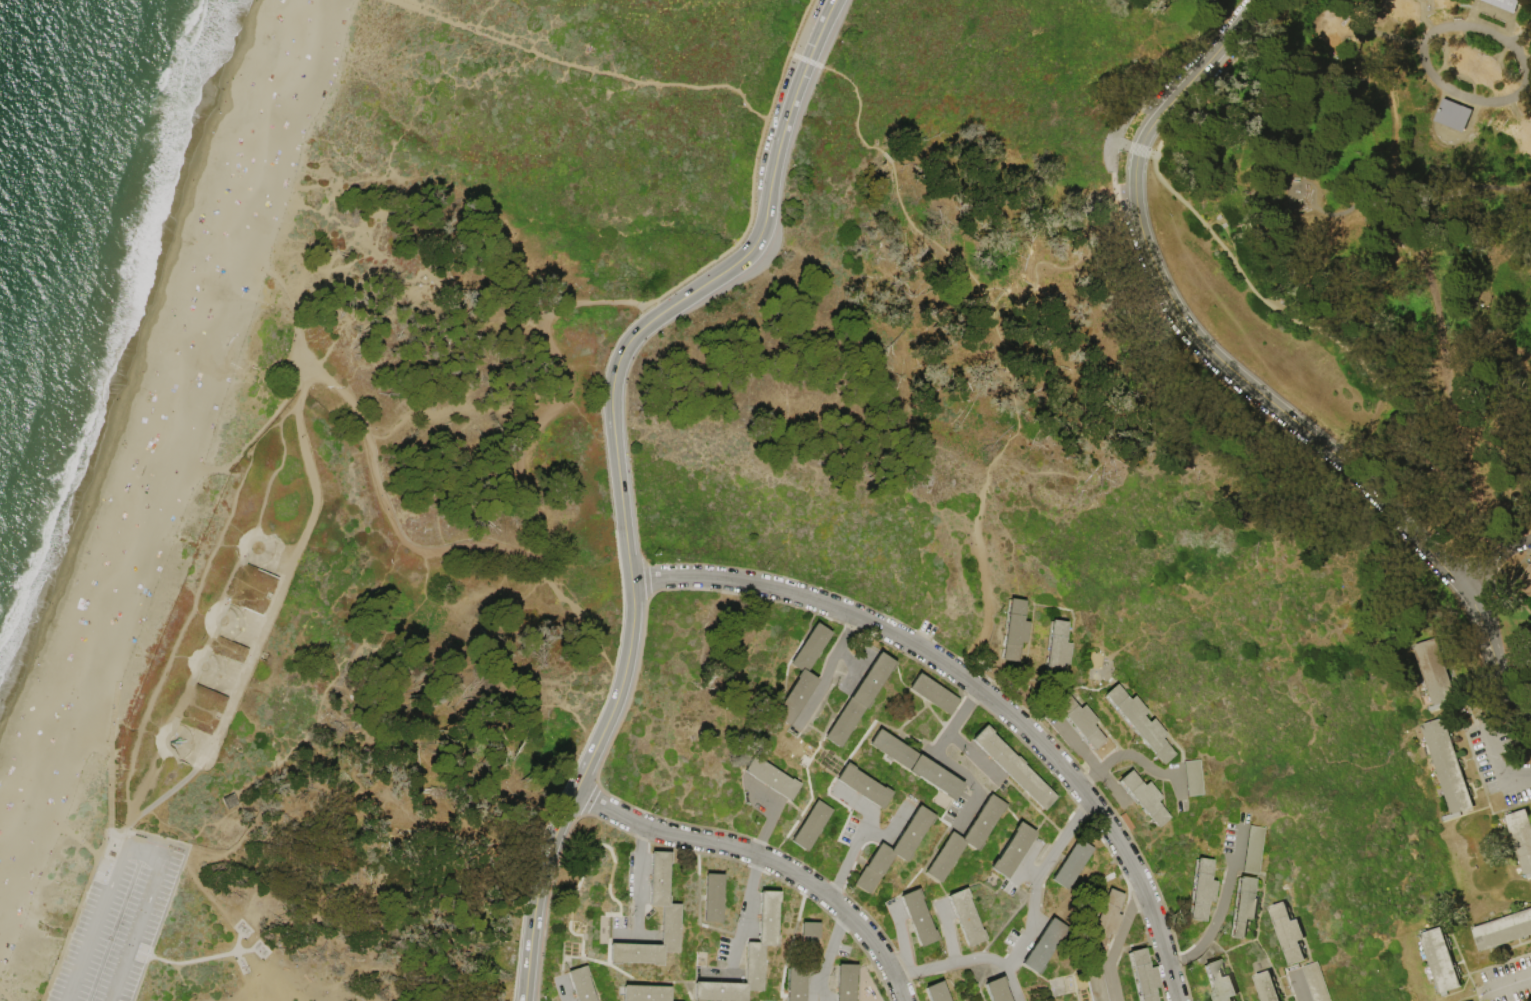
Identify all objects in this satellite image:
building: (1504, 5)
road: (1471, 13)
road: (1523, 34)
road: (809, 60)
road: (1529, 69)
road: (1303, 76)
road: (1436, 81)
parking lot: (1173, 89)
road: (859, 106)
road: (751, 109)
building: (1454, 116)
road: (1130, 147)
road: (1104, 151)
road: (1470, 190)
parking lot: (1129, 220)
road: (1202, 224)
road: (1231, 243)
road: (1428, 291)
road: (653, 309)
road: (993, 318)
road: (1192, 322)
road: (302, 342)
road: (616, 363)
road: (568, 381)
road: (258, 431)
road: (1424, 484)
park: (806, 516)
road: (259, 534)
road: (275, 537)
road: (290, 547)
building: (1529, 562)
road: (1498, 564)
road: (286, 574)
building: (1524, 583)
road: (192, 604)
road: (988, 604)
road: (583, 609)
road: (217, 619)
road: (257, 620)
road: (221, 621)
building: (1015, 629)
road: (252, 633)
road: (245, 644)
building: (220, 646)
building: (1058, 648)
road: (1493, 651)
road: (237, 663)
road: (204, 665)
road: (827, 673)
building: (802, 674)
building: (1436, 674)
road: (236, 679)
road: (980, 691)
building: (934, 694)
road: (225, 695)
building: (860, 699)
building: (1081, 721)
building: (1141, 723)
road: (110, 726)
road: (1076, 744)
road: (941, 745)
road: (169, 746)
road: (976, 759)
road: (181, 760)
road: (1144, 761)
building: (916, 764)
road: (1500, 764)
road: (198, 765)
building: (1014, 768)
building: (1449, 768)
building: (772, 778)
road: (1089, 778)
building: (1195, 778)
building: (864, 786)
road: (1112, 787)
road: (1184, 794)
road: (110, 795)
building: (1145, 797)
building: (229, 801)
road: (859, 801)
road: (145, 809)
road: (968, 813)
road: (868, 825)
building: (812, 826)
road: (767, 827)
road: (888, 829)
road: (118, 830)
building: (966, 838)
building: (1522, 838)
road: (77, 839)
road: (860, 840)
road: (1240, 842)
building: (1013, 850)
building: (1255, 850)
building: (894, 851)
road: (145, 852)
road: (765, 859)
building: (1073, 864)
road: (842, 873)
road: (638, 880)
road: (1039, 880)
building: (1202, 890)
road: (538, 894)
road: (748, 896)
building: (714, 898)
road: (74, 908)
building: (1244, 908)
building: (671, 916)
road: (231, 917)
building: (966, 917)
building: (918, 918)
parking lot: (115, 920)
building: (1102, 921)
road: (95, 923)
road: (1216, 923)
road: (138, 930)
road: (947, 931)
building: (1504, 932)
building: (1289, 934)
road: (625, 936)
road: (902, 936)
road: (1118, 943)
building: (1045, 945)
road: (734, 953)
road: (830, 956)
building: (748, 958)
road: (968, 960)
building: (804, 961)
building: (1442, 961)
road: (189, 962)
building: (1144, 975)
parking lot: (1508, 981)
building: (846, 982)
building: (1096, 982)
building: (1220, 982)
building: (1316, 983)
building: (582, 984)
road: (1298, 985)
road: (187, 986)
road: (1505, 986)
building: (1058, 987)
building: (1268, 987)
road: (563, 988)
building: (997, 990)
building: (938, 992)
building: (646, 993)
road: (3, 997)
building: (1235, 1000)

